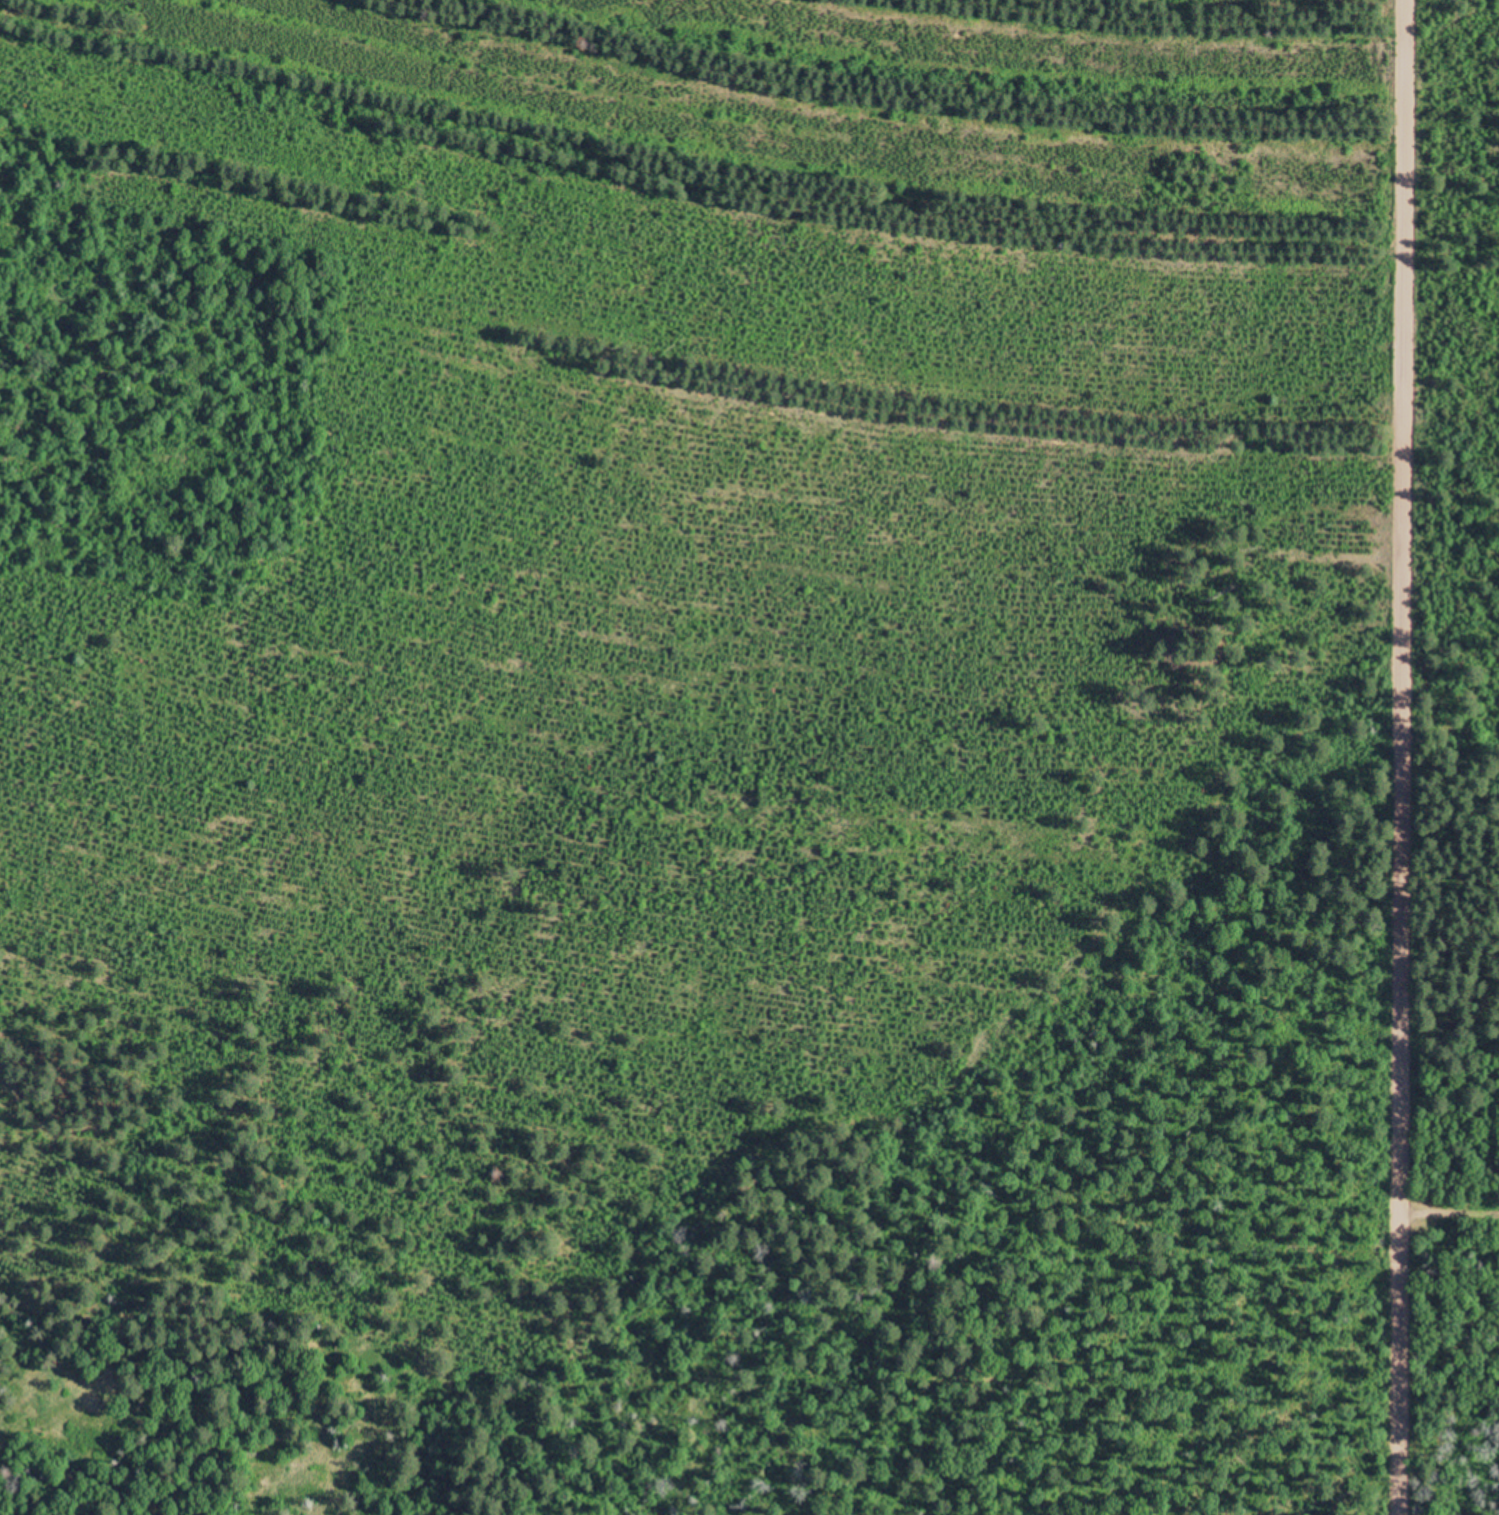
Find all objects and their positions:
road: (1398, 757)
road: (1446, 1185)

